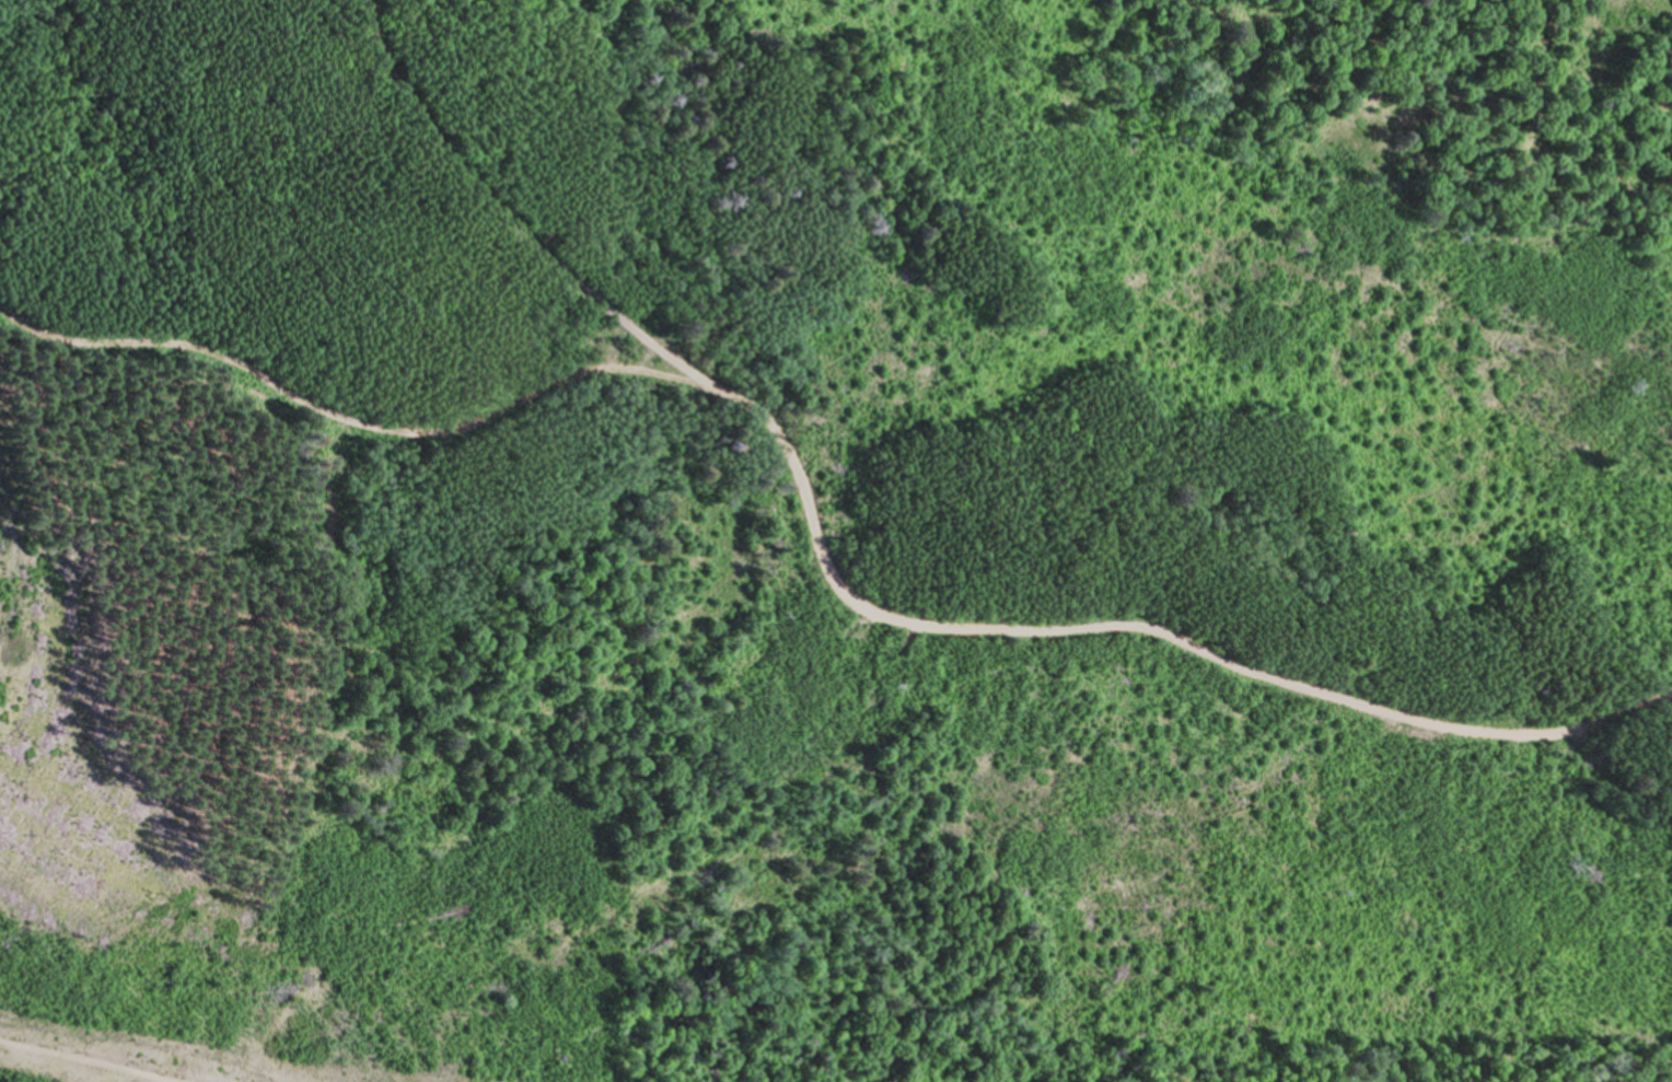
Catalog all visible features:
road: (89, 1060)

